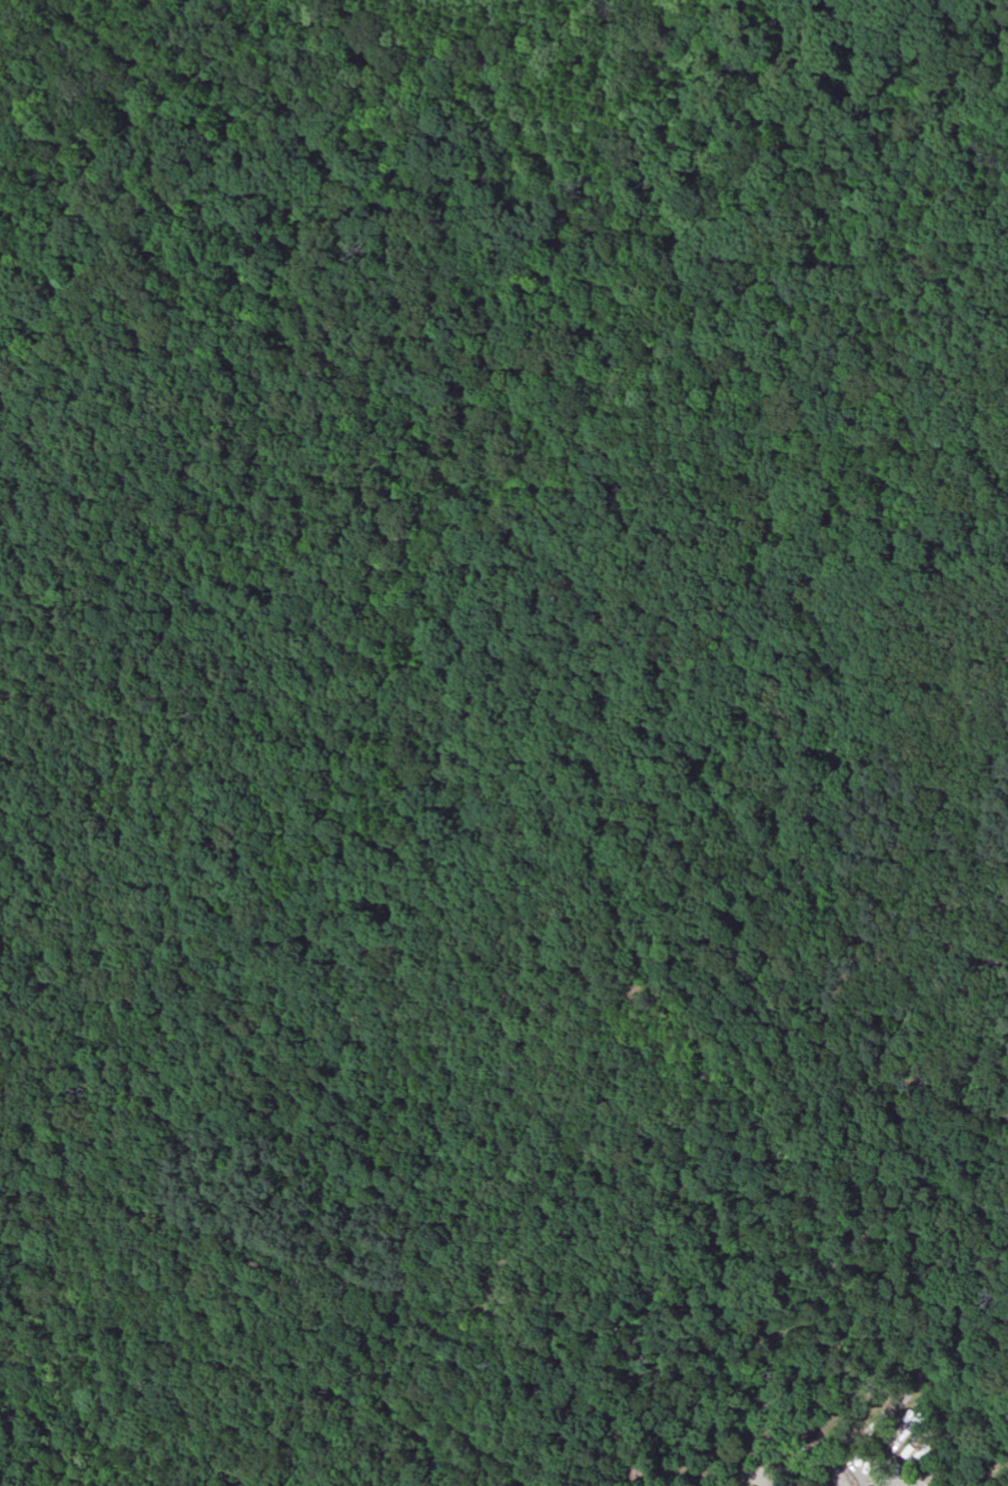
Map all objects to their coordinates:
road: (839, 1465)

